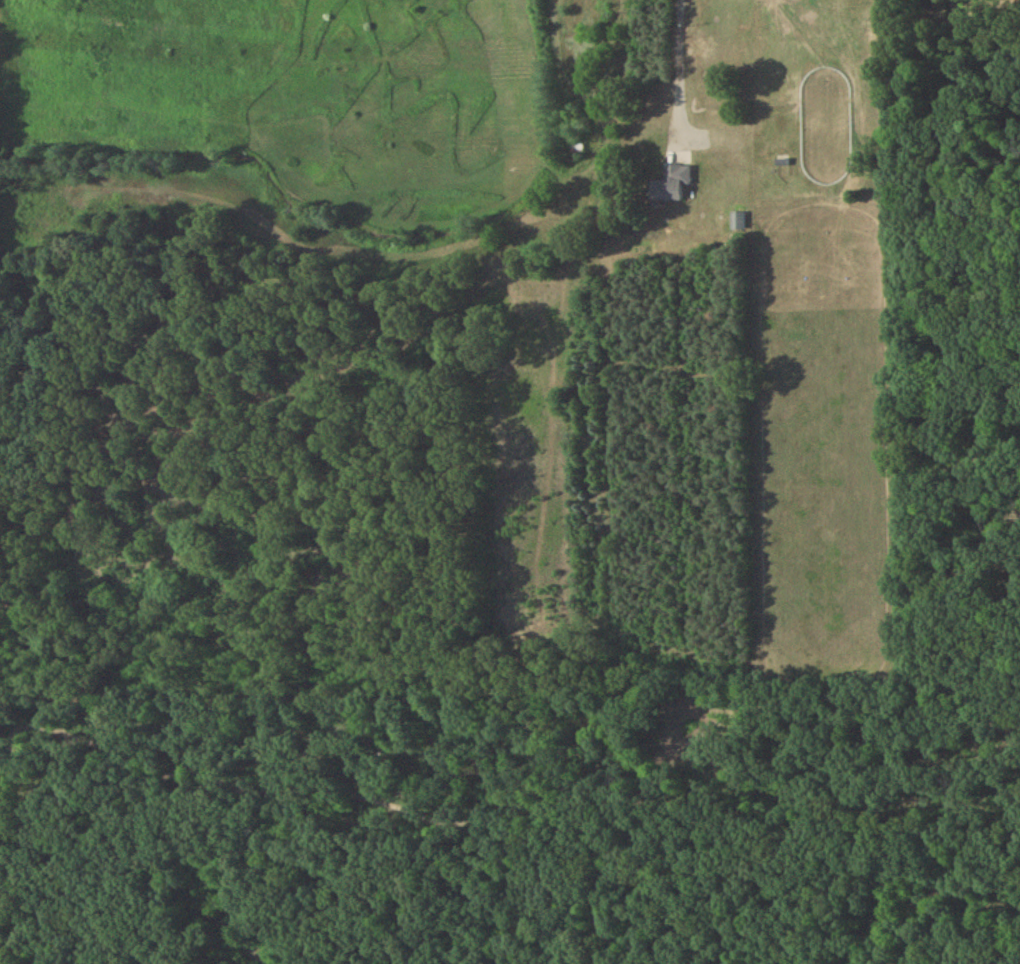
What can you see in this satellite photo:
road: (682, 65)
building: (670, 186)

